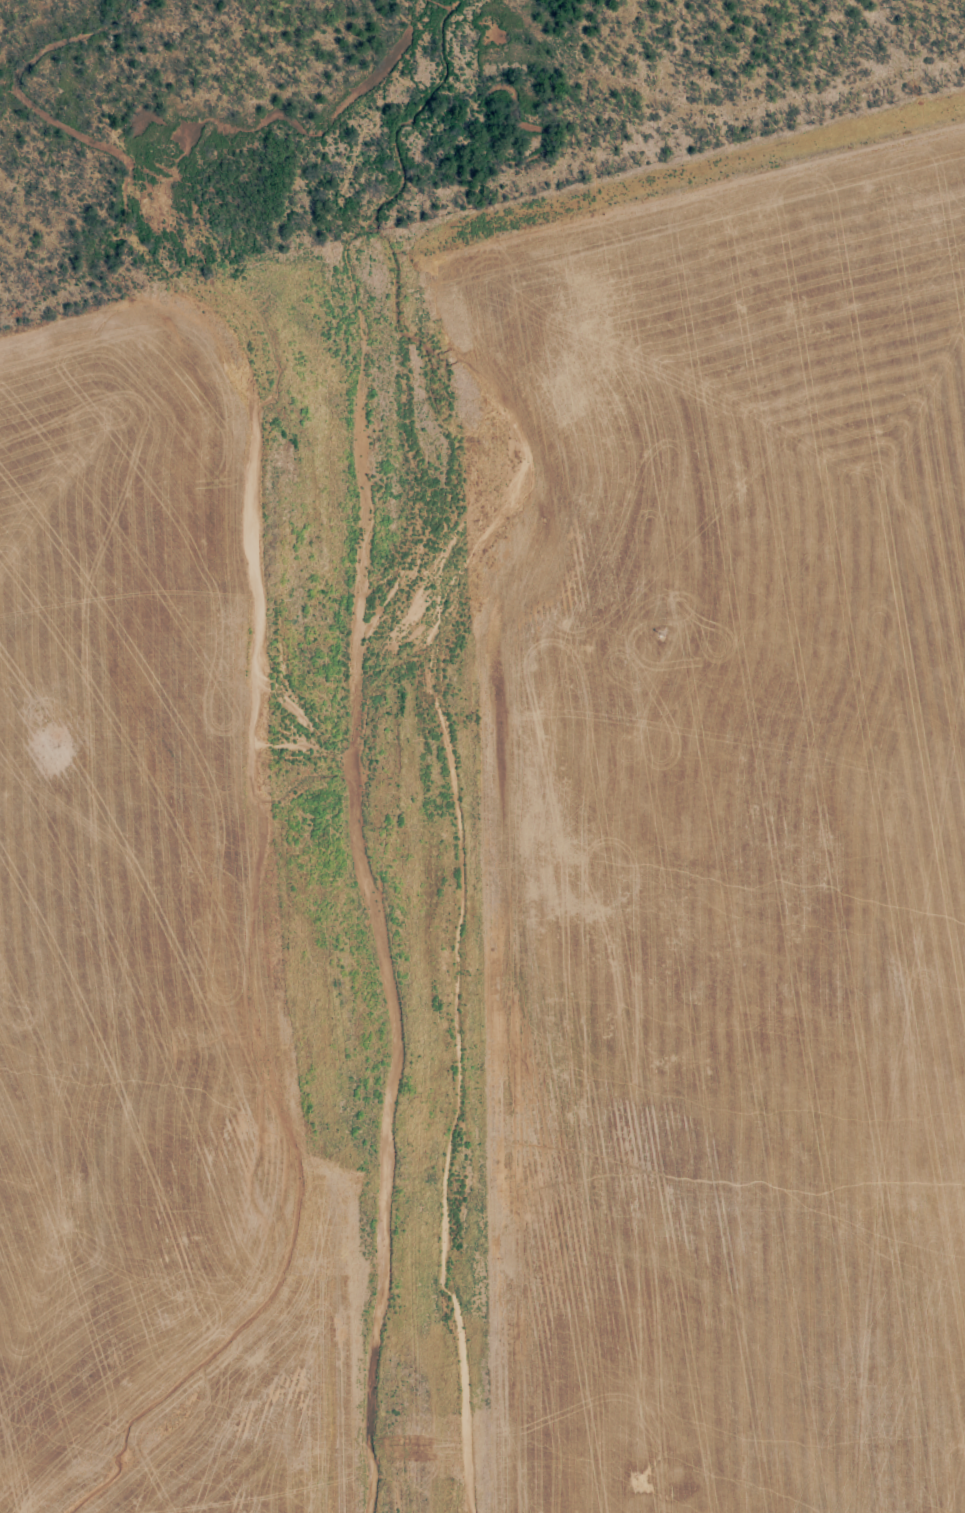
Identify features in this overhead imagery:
road: (703, 750)

